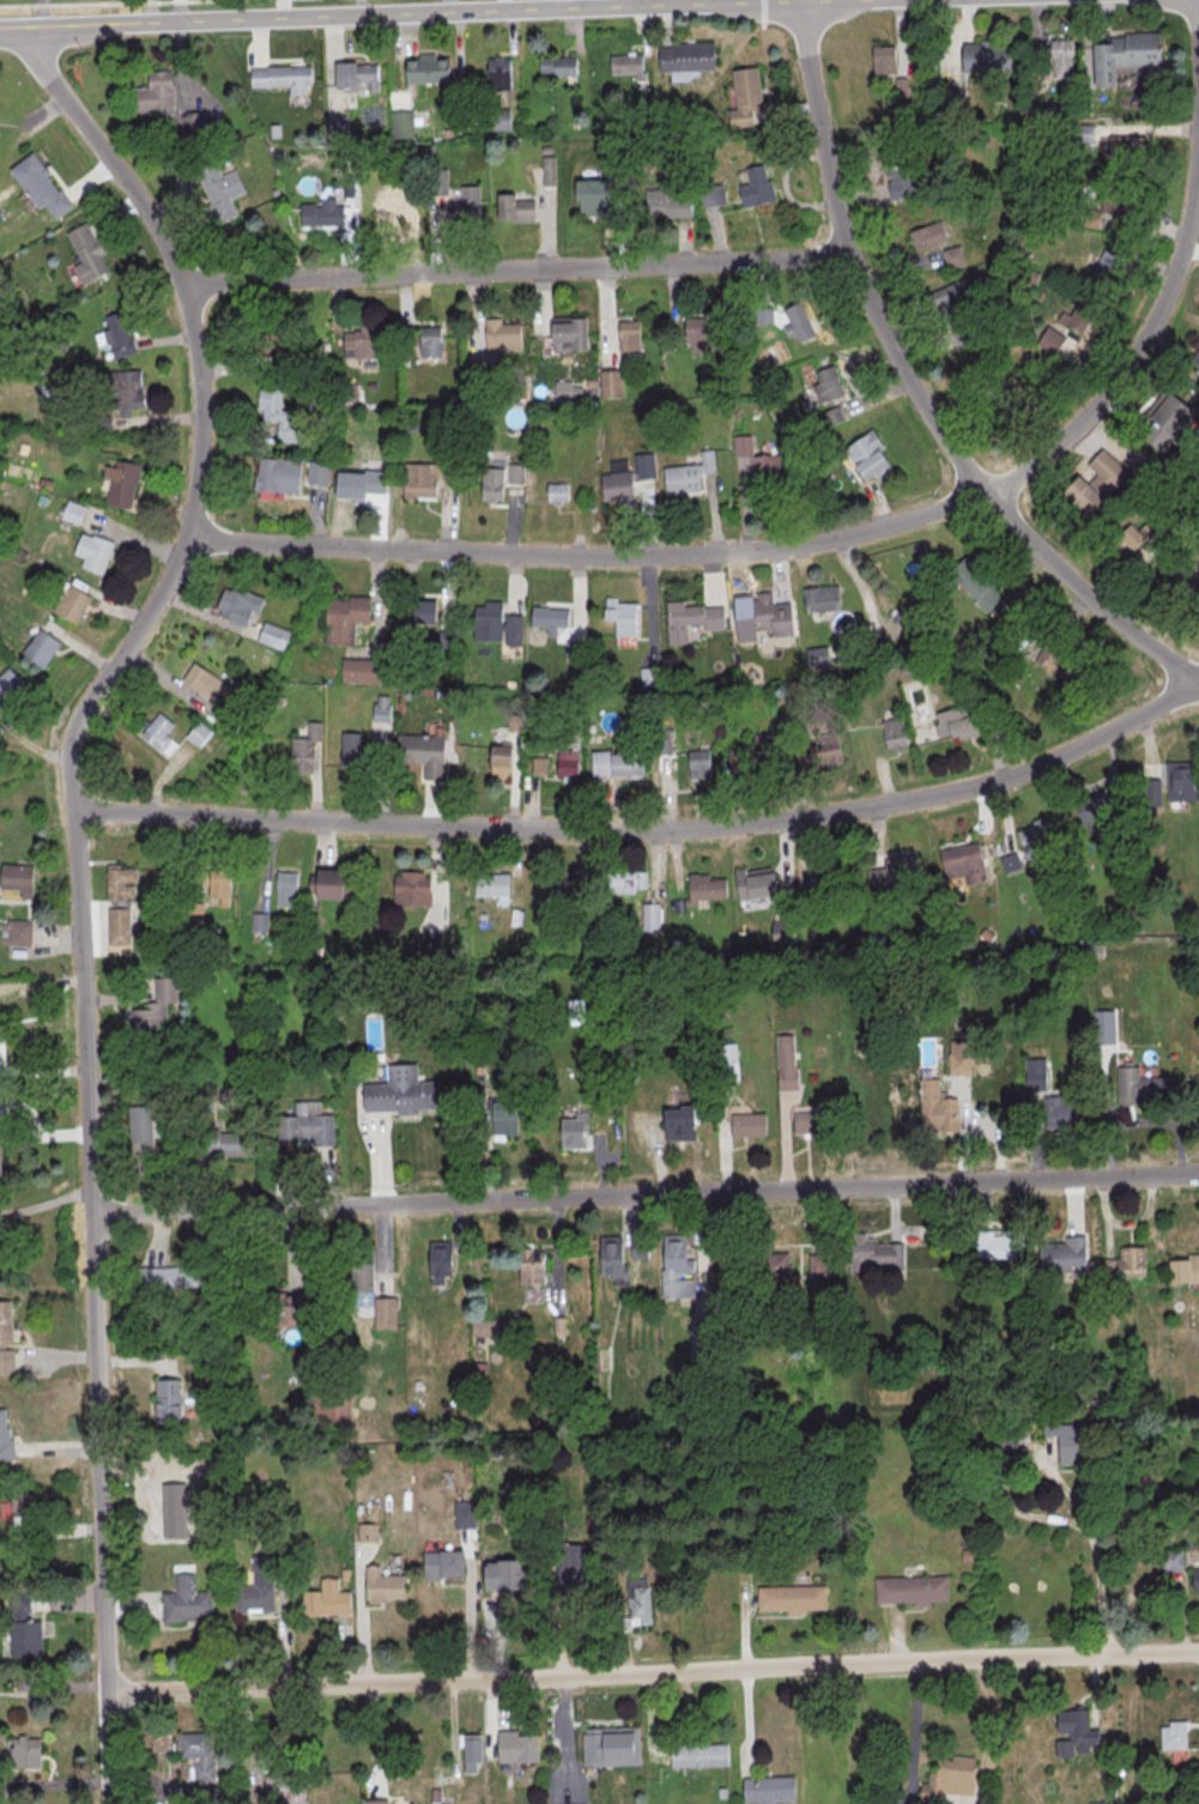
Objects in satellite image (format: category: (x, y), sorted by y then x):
road: (102, 4)
road: (574, 4)
road: (357, 7)
road: (176, 10)
road: (762, 10)
road: (110, 11)
road: (368, 14)
building: (1133, 46)
building: (684, 55)
building: (983, 56)
building: (1061, 57)
building: (884, 59)
building: (556, 65)
building: (625, 65)
building: (425, 69)
building: (496, 73)
building: (353, 74)
building: (280, 77)
building: (904, 89)
building: (153, 92)
building: (741, 96)
building: (496, 120)
building: (400, 122)
building: (198, 123)
building: (333, 127)
building: (0, 131)
building: (1125, 147)
building: (549, 170)
building: (902, 177)
building: (434, 181)
building: (759, 183)
building: (38, 184)
building: (216, 190)
building: (1116, 201)
building: (677, 205)
building: (591, 206)
building: (516, 207)
building: (323, 211)
building: (392, 213)
building: (928, 235)
building: (85, 254)
building: (952, 256)
road: (514, 267)
building: (1107, 268)
building: (950, 293)
building: (770, 315)
building: (1080, 315)
building: (798, 323)
building: (570, 333)
building: (701, 333)
building: (499, 334)
building: (119, 335)
building: (630, 338)
building: (431, 340)
building: (361, 341)
building: (1056, 341)
building: (273, 344)
building: (1195, 352)
building: (611, 382)
building: (828, 383)
road: (916, 388)
building: (129, 391)
building: (1016, 404)
building: (1170, 412)
building: (277, 416)
building: (758, 458)
building: (871, 458)
building: (1106, 470)
building: (319, 473)
building: (516, 473)
building: (279, 474)
building: (679, 477)
building: (417, 479)
building: (123, 482)
building: (492, 484)
building: (614, 484)
building: (362, 485)
building: (558, 492)
building: (1085, 495)
building: (74, 511)
road: (872, 527)
building: (1134, 534)
building: (91, 551)
building: (975, 583)
building: (822, 598)
building: (71, 603)
building: (240, 605)
building: (424, 613)
building: (767, 613)
building: (623, 615)
building: (547, 616)
building: (343, 618)
building: (688, 618)
building: (496, 623)
building: (273, 635)
building: (38, 647)
building: (574, 649)
building: (818, 656)
building: (1055, 662)
building: (361, 670)
building: (207, 683)
building: (7, 684)
building: (379, 708)
building: (956, 724)
building: (159, 733)
building: (199, 733)
building: (895, 734)
building: (664, 743)
building: (304, 751)
building: (824, 751)
building: (356, 752)
building: (419, 752)
building: (752, 756)
building: (502, 758)
building: (613, 762)
building: (568, 763)
building: (700, 763)
building: (540, 765)
building: (1181, 781)
building: (1151, 791)
building: (1095, 807)
road: (648, 824)
building: (1033, 834)
building: (962, 860)
road: (77, 870)
building: (896, 872)
building: (16, 878)
building: (622, 878)
building: (115, 883)
building: (326, 883)
building: (751, 883)
building: (489, 884)
building: (702, 886)
building: (218, 888)
building: (284, 889)
building: (408, 889)
building: (556, 889)
building: (650, 915)
building: (260, 921)
building: (120, 930)
building: (22, 934)
road: (41, 980)
building: (152, 1005)
building: (787, 1061)
building: (1033, 1073)
building: (1142, 1086)
building: (399, 1091)
building: (929, 1104)
building: (1060, 1113)
building: (502, 1118)
building: (678, 1120)
building: (308, 1122)
building: (807, 1122)
building: (745, 1125)
building: (574, 1130)
road: (44, 1133)
building: (139, 1134)
building: (230, 1143)
building: (0, 1160)
road: (646, 1193)
road: (46, 1201)
building: (995, 1245)
building: (872, 1254)
building: (1060, 1255)
building: (616, 1258)
building: (441, 1259)
building: (1125, 1264)
building: (533, 1265)
building: (762, 1265)
building: (678, 1267)
building: (1183, 1267)
building: (363, 1276)
building: (171, 1277)
building: (289, 1304)
building: (386, 1310)
building: (491, 1327)
building: (5, 1337)
road: (137, 1361)
building: (164, 1403)
building: (5, 1440)
building: (1067, 1440)
road: (54, 1447)
road: (1062, 1485)
building: (19, 1509)
building: (466, 1513)
building: (368, 1532)
building: (1171, 1560)
building: (440, 1563)
building: (575, 1567)
building: (508, 1574)
building: (1195, 1578)
building: (381, 1585)
building: (254, 1587)
building: (909, 1590)
building: (789, 1598)
building: (323, 1599)
building: (183, 1600)
building: (638, 1602)
building: (24, 1629)
road: (652, 1672)
road: (916, 1727)
building: (1073, 1732)
building: (1170, 1735)
road: (375, 1741)
building: (608, 1745)
building: (514, 1747)
building: (24, 1751)
building: (194, 1752)
building: (470, 1752)
building: (696, 1754)
building: (946, 1775)
building: (281, 1786)
building: (765, 1788)
building: (373, 1802)

